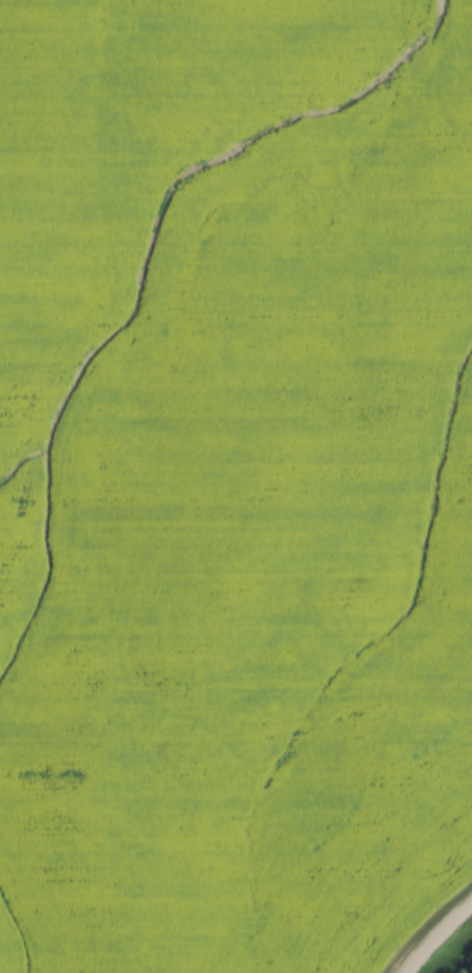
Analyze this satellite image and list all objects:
road: (441, 939)

